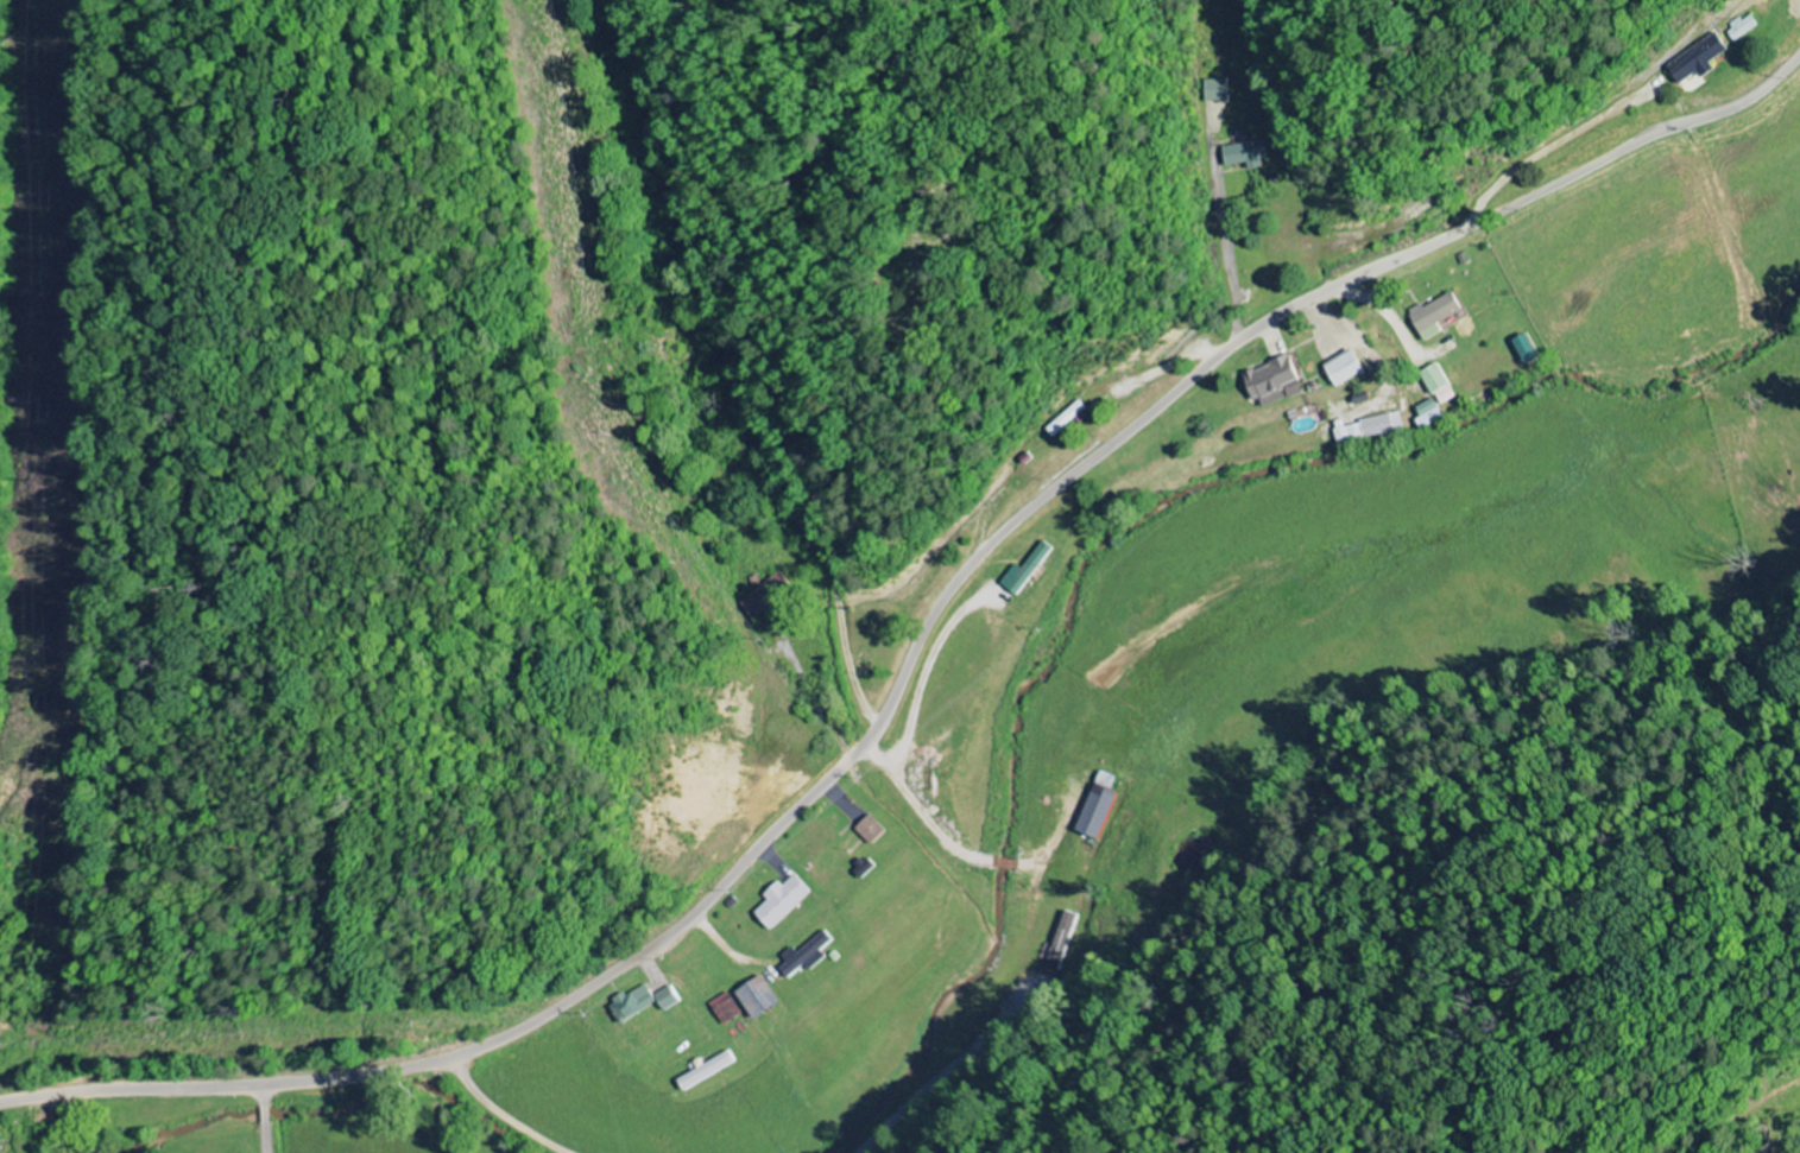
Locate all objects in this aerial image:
building: (1745, 26)
building: (1704, 58)
road: (846, 89)
building: (1218, 90)
building: (1250, 153)
building: (1439, 315)
building: (1353, 367)
road: (739, 372)
building: (1444, 385)
building: (1433, 413)
building: (1371, 429)
building: (1030, 570)
building: (770, 595)
road: (916, 651)
building: (1099, 806)
building: (876, 830)
building: (787, 901)
building: (809, 955)
building: (670, 997)
building: (762, 999)
building: (634, 1003)
building: (709, 1071)
road: (501, 1113)
road: (265, 1117)

